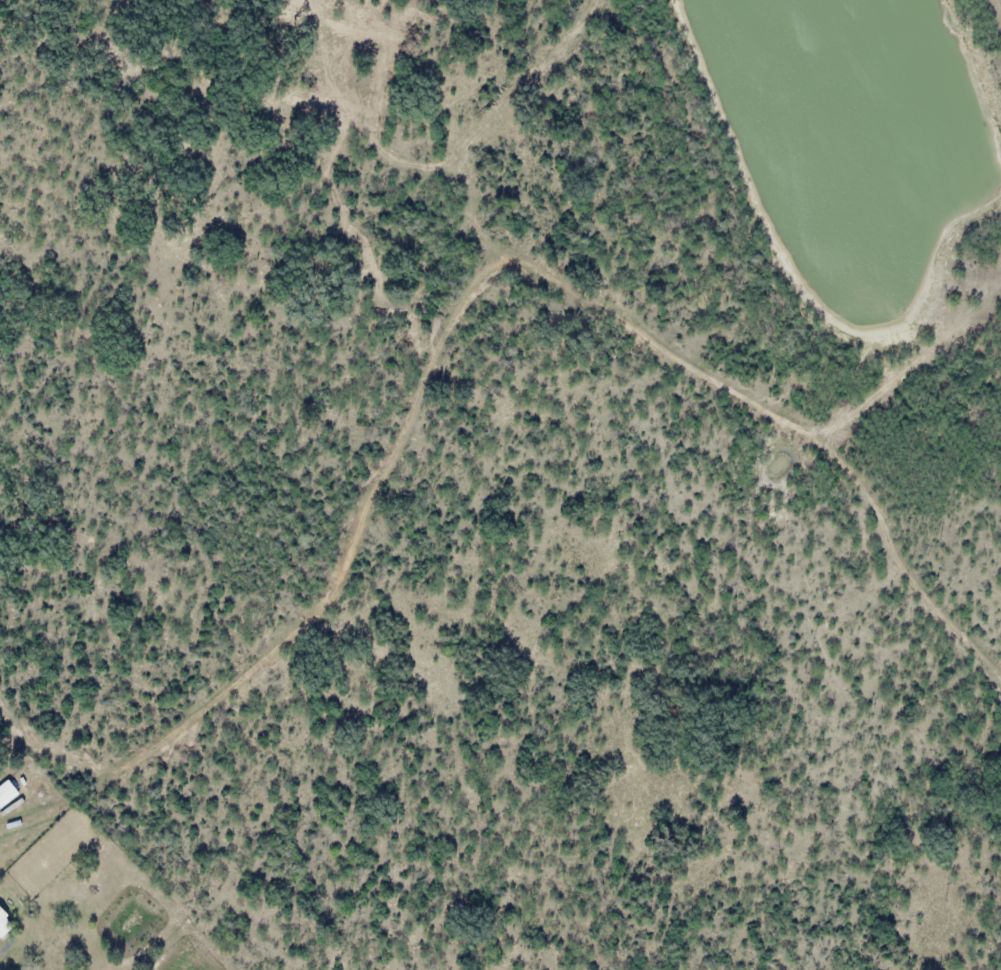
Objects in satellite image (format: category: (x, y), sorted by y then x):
building: (2, 916)
building: (1, 930)

